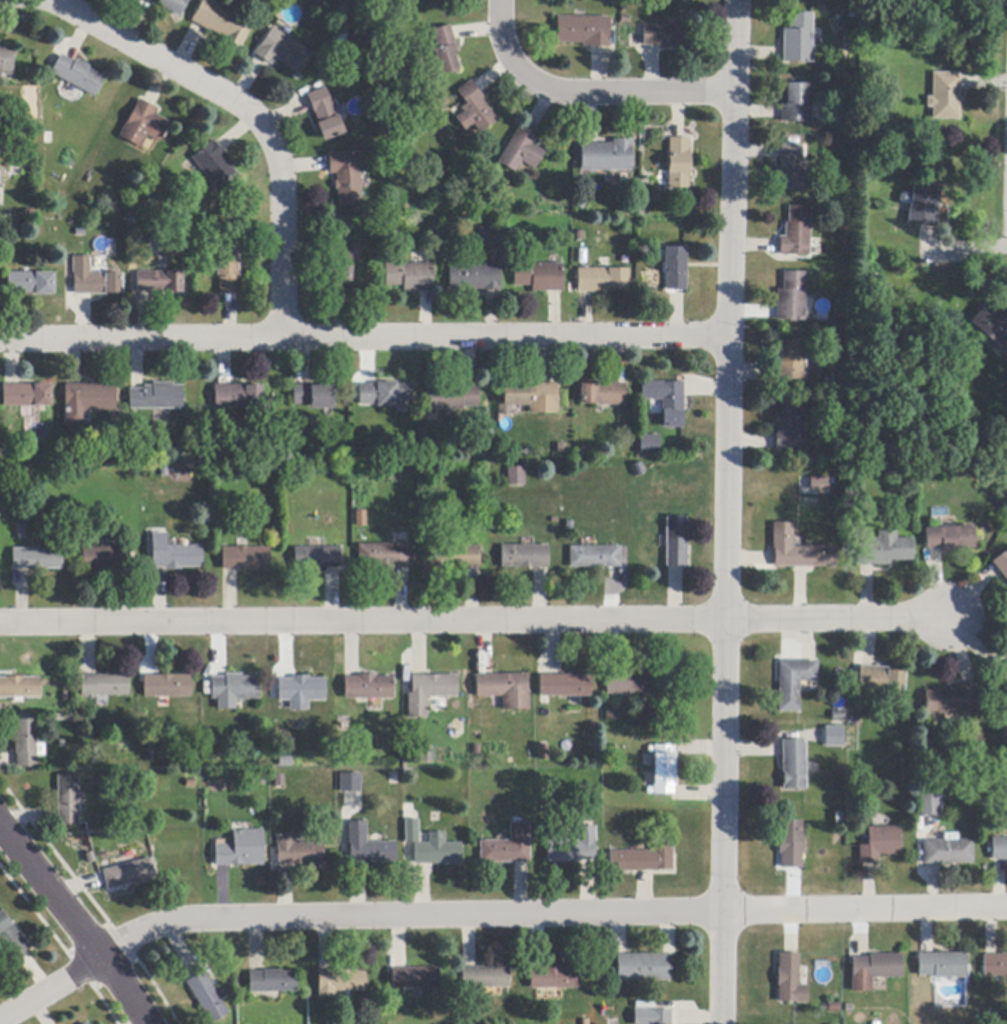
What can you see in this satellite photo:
building: (170, 6)
building: (222, 22)
building: (583, 31)
building: (667, 36)
building: (798, 39)
building: (445, 50)
building: (282, 51)
building: (5, 61)
building: (77, 75)
road: (586, 93)
building: (944, 97)
building: (795, 104)
building: (474, 109)
building: (325, 114)
road: (250, 115)
building: (144, 125)
building: (520, 151)
building: (606, 156)
building: (678, 163)
building: (215, 166)
building: (790, 167)
building: (346, 177)
building: (580, 203)
building: (922, 205)
building: (795, 233)
building: (514, 234)
building: (340, 267)
building: (676, 268)
building: (228, 271)
building: (411, 277)
building: (475, 277)
building: (539, 277)
building: (94, 279)
building: (602, 280)
building: (160, 282)
building: (31, 283)
building: (791, 297)
building: (991, 327)
road: (364, 337)
building: (790, 361)
building: (840, 381)
building: (603, 394)
building: (386, 395)
building: (27, 396)
building: (238, 396)
building: (156, 397)
building: (314, 397)
building: (532, 397)
building: (452, 398)
building: (87, 401)
building: (666, 401)
building: (508, 408)
building: (793, 429)
building: (650, 445)
building: (360, 451)
building: (79, 469)
building: (638, 470)
building: (928, 470)
building: (516, 477)
building: (819, 484)
road: (726, 511)
building: (361, 519)
building: (22, 531)
building: (949, 539)
building: (676, 542)
building: (883, 550)
building: (797, 551)
building: (174, 555)
building: (384, 556)
building: (105, 557)
building: (245, 557)
building: (454, 557)
building: (525, 557)
building: (595, 557)
building: (317, 558)
building: (37, 559)
building: (1001, 565)
road: (834, 620)
road: (362, 621)
building: (1003, 675)
building: (880, 680)
building: (793, 682)
building: (629, 684)
building: (565, 685)
building: (104, 686)
building: (167, 686)
building: (434, 686)
building: (367, 687)
building: (19, 688)
building: (234, 688)
building: (504, 689)
building: (300, 691)
building: (950, 701)
building: (837, 717)
building: (831, 735)
building: (27, 744)
building: (543, 752)
building: (426, 755)
building: (793, 764)
building: (663, 770)
building: (279, 781)
building: (351, 783)
building: (68, 800)
building: (927, 804)
building: (412, 832)
building: (879, 844)
building: (790, 845)
building: (368, 847)
building: (508, 847)
building: (573, 847)
building: (241, 849)
building: (999, 849)
building: (437, 851)
building: (948, 851)
building: (298, 852)
building: (642, 859)
building: (129, 874)
road: (865, 908)
road: (347, 915)
road: (76, 922)
building: (10, 939)
building: (942, 965)
building: (995, 966)
building: (643, 968)
building: (874, 971)
building: (484, 977)
building: (553, 978)
building: (414, 979)
building: (789, 980)
building: (271, 982)
building: (340, 982)
building: (207, 997)
building: (651, 1017)
building: (584, 1022)
building: (86, 1023)

